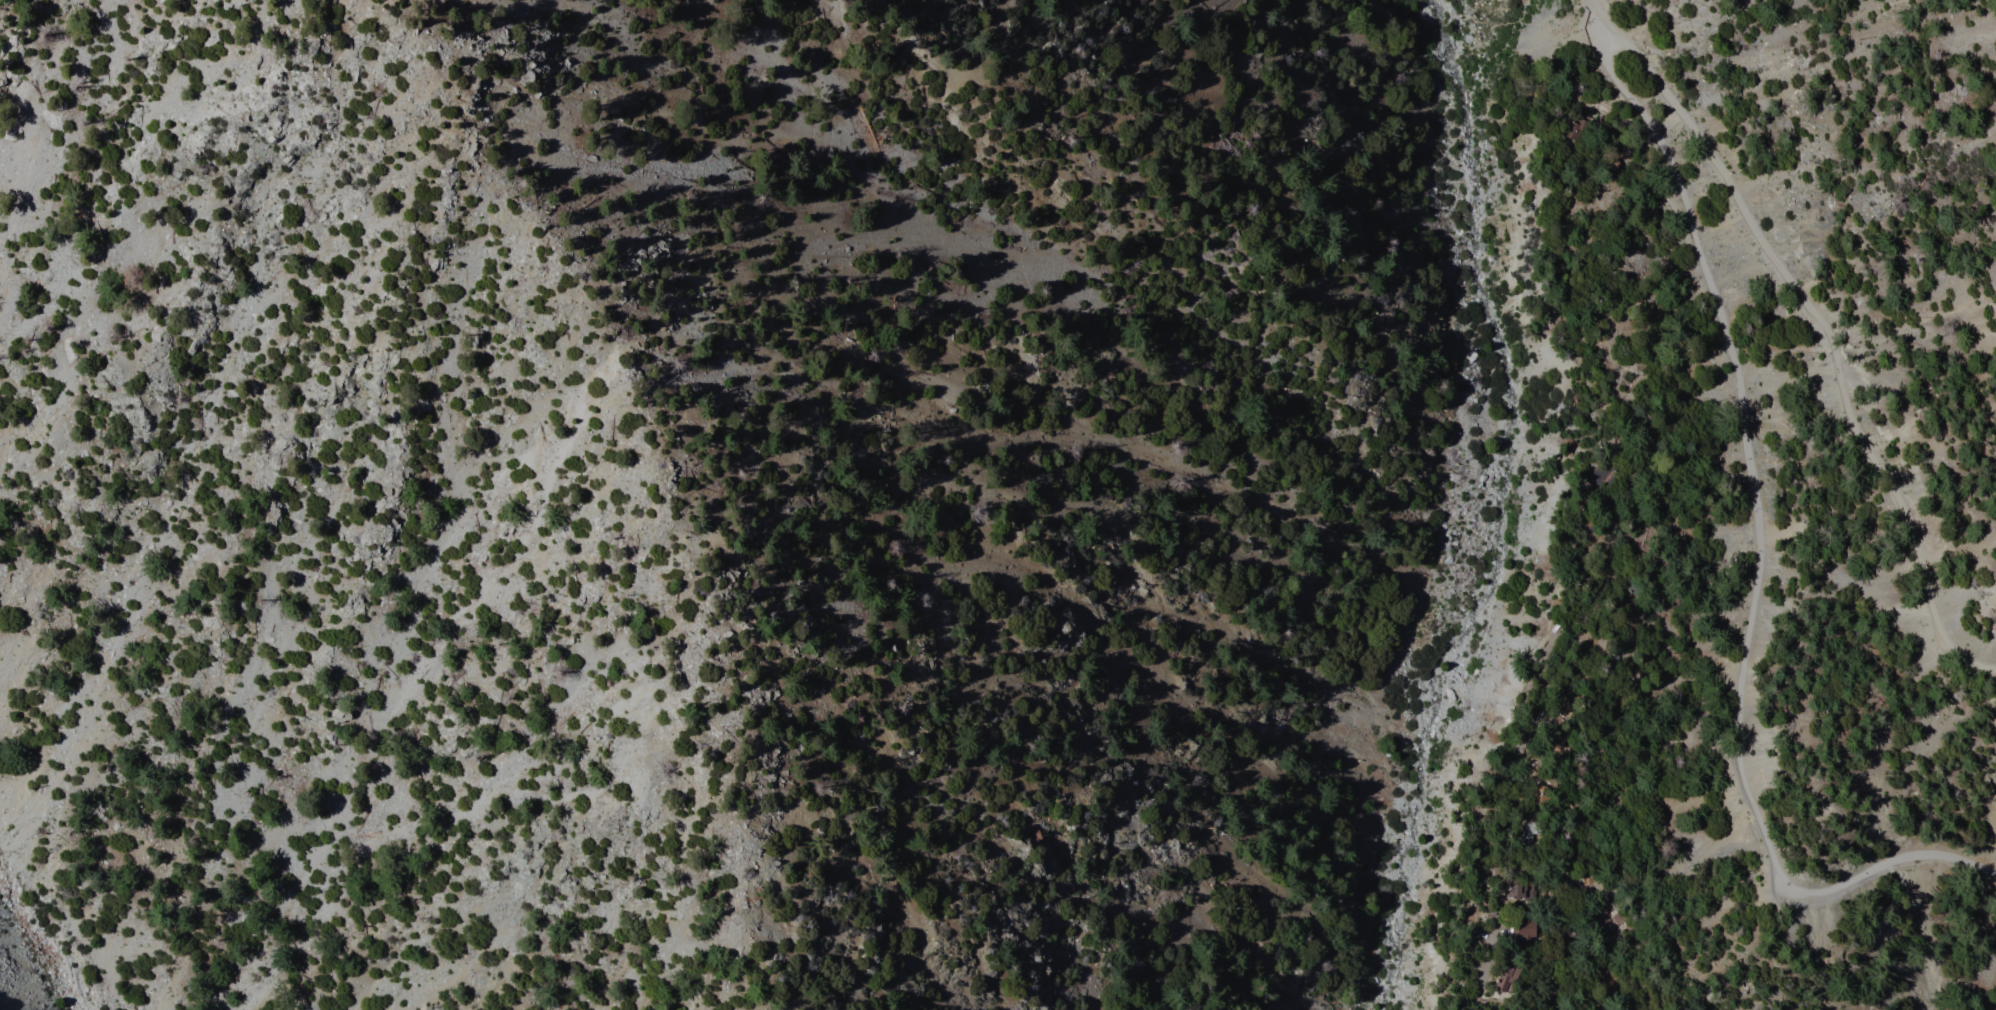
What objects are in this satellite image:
road: (1592, 17)
road: (1627, 120)
building: (1609, 165)
road: (1654, 185)
road: (1818, 341)
road: (1701, 357)
building: (1593, 476)
road: (1754, 562)
building: (1630, 628)
building: (1559, 738)
road: (1516, 748)
building: (1526, 837)
building: (1515, 890)
building: (1525, 929)
road: (1625, 937)
building: (1506, 974)
building: (1495, 987)

